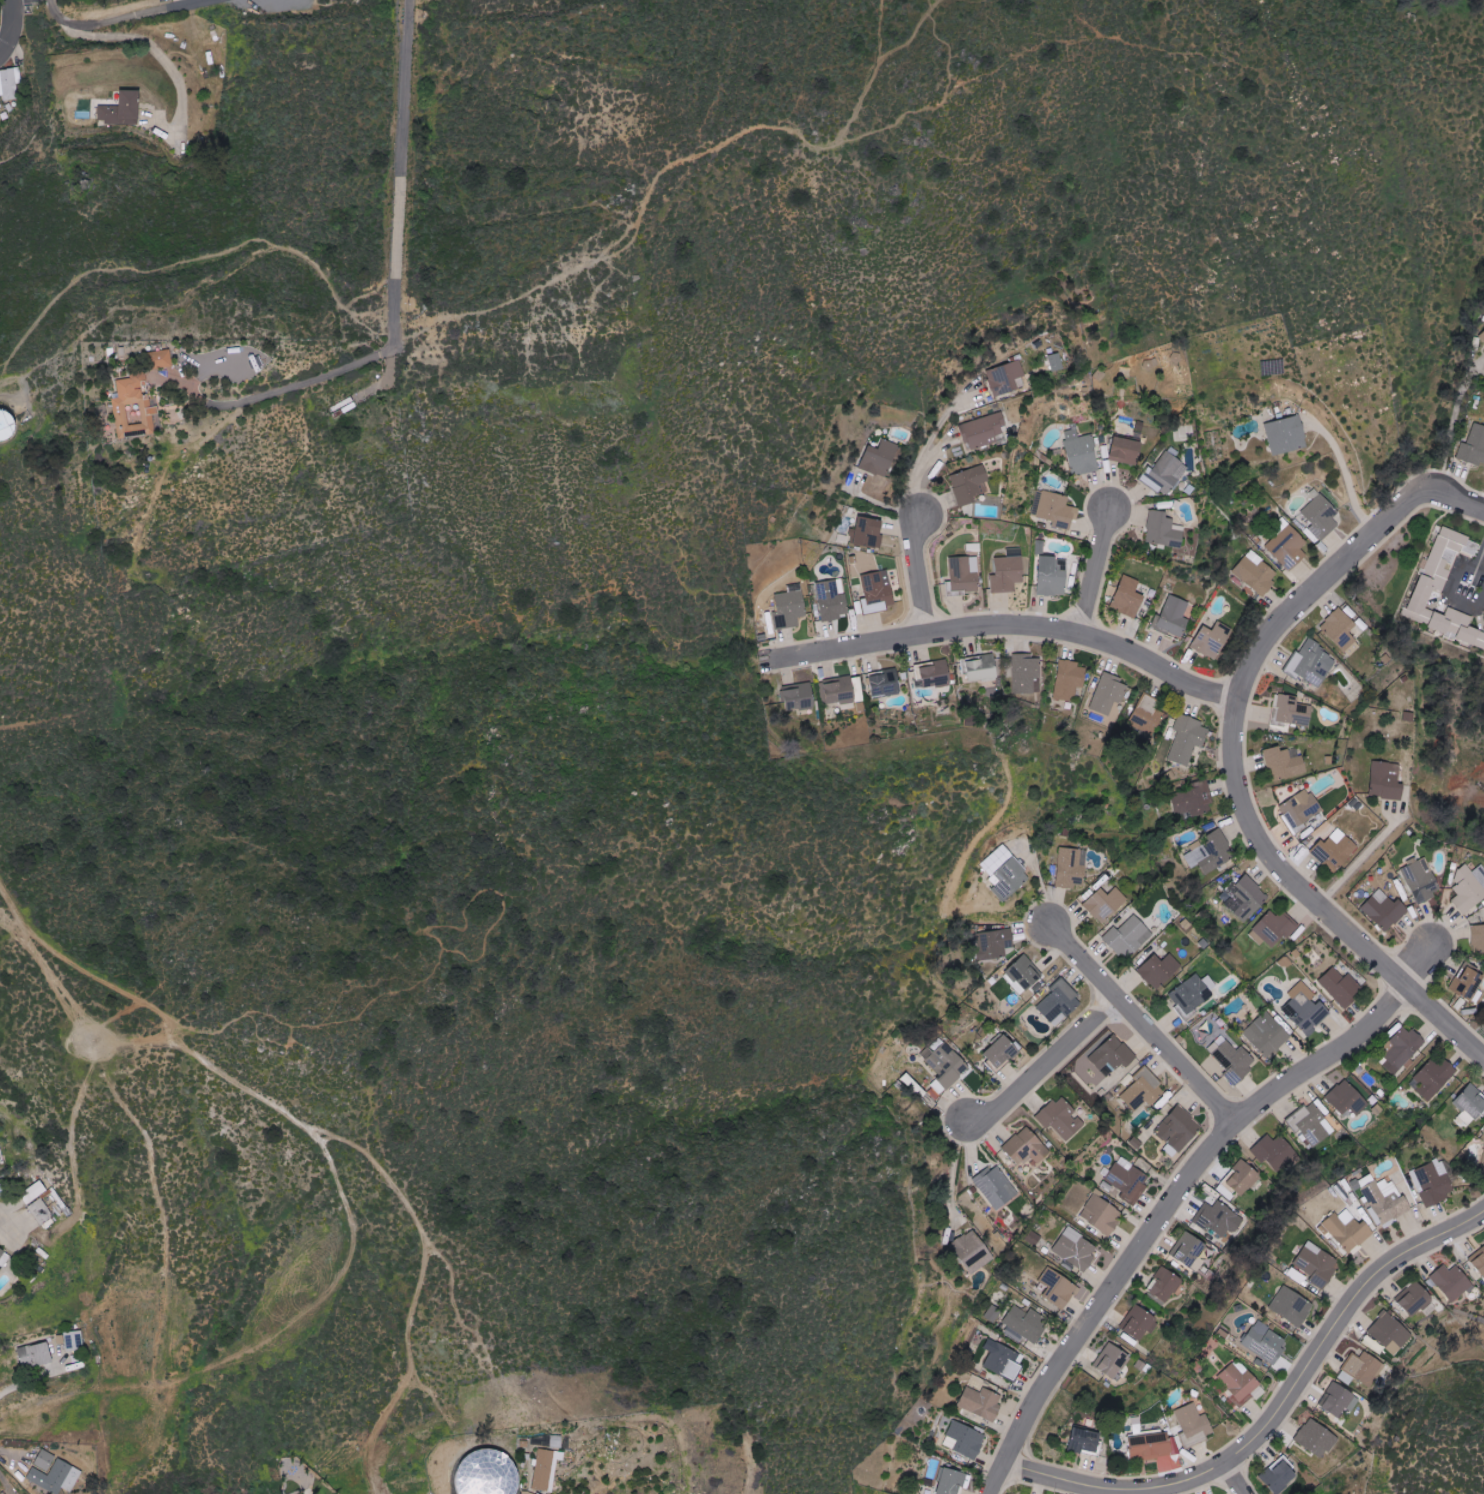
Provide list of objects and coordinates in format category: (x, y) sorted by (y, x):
road: (56, 13)
road: (131, 15)
road: (12, 27)
road: (142, 43)
building: (9, 83)
building: (0, 106)
building: (119, 108)
building: (0, 118)
road: (400, 181)
building: (164, 358)
building: (1056, 362)
building: (1006, 378)
road: (259, 396)
building: (135, 409)
building: (7, 425)
storage tank: (7, 425)
road: (1451, 429)
building: (985, 430)
building: (1287, 435)
building: (1475, 445)
road: (924, 449)
building: (1127, 451)
building: (1082, 452)
building: (879, 458)
building: (1166, 473)
road: (1345, 475)
building: (970, 484)
building: (1057, 510)
building: (1321, 517)
building: (1164, 530)
building: (868, 533)
building: (1288, 546)
road: (1480, 557)
building: (1441, 566)
road: (1480, 566)
road: (1094, 570)
building: (1008, 572)
road: (918, 574)
building: (963, 575)
building: (1054, 576)
building: (1261, 577)
road: (1446, 591)
building: (877, 592)
building: (1128, 597)
building: (832, 599)
building: (790, 607)
building: (1173, 618)
road: (1006, 625)
building: (1441, 625)
building: (1341, 629)
building: (1213, 640)
building: (1313, 664)
building: (983, 668)
building: (937, 674)
building: (1026, 674)
building: (1069, 679)
building: (887, 683)
building: (844, 690)
building: (1109, 693)
building: (800, 696)
building: (1291, 711)
building: (1147, 715)
building: (1186, 740)
road: (1232, 755)
building: (1286, 763)
building: (1387, 781)
building: (1194, 800)
building: (1300, 812)
building: (1336, 850)
building: (1211, 854)
road: (1362, 856)
building: (1071, 869)
building: (1006, 872)
building: (1421, 880)
building: (1469, 888)
building: (1246, 900)
building: (1106, 904)
building: (1385, 910)
building: (1273, 929)
building: (1129, 937)
building: (1478, 938)
building: (1001, 942)
road: (1419, 959)
building: (1160, 971)
building: (1023, 975)
building: (1468, 982)
building: (1341, 987)
building: (1193, 994)
building: (1060, 1003)
building: (1306, 1009)
road: (1142, 1023)
building: (1268, 1035)
building: (1002, 1050)
building: (1403, 1051)
building: (1114, 1055)
building: (1235, 1062)
road: (1046, 1063)
building: (1434, 1077)
building: (1144, 1090)
building: (1350, 1096)
building: (1472, 1103)
building: (1062, 1119)
building: (1311, 1125)
building: (1178, 1131)
building: (1027, 1146)
road: (971, 1147)
building: (1276, 1152)
road: (954, 1172)
building: (1244, 1179)
building: (1128, 1180)
building: (1432, 1184)
building: (997, 1187)
building: (34, 1191)
building: (1385, 1201)
road: (1163, 1210)
building: (42, 1213)
building: (1102, 1214)
building: (1219, 1219)
building: (1348, 1231)
building: (1034, 1239)
building: (1075, 1249)
building: (973, 1251)
building: (1190, 1251)
building: (2, 1252)
building: (1478, 1261)
building: (1317, 1264)
building: (1167, 1283)
building: (1453, 1283)
building: (1060, 1288)
building: (1415, 1298)
building: (1291, 1306)
building: (1138, 1321)
building: (1025, 1324)
building: (1390, 1332)
building: (74, 1340)
building: (1265, 1343)
building: (36, 1354)
building: (1112, 1359)
building: (1006, 1360)
building: (1362, 1369)
building: (1240, 1383)
road: (30, 1386)
building: (1340, 1399)
building: (982, 1402)
road: (1274, 1414)
building: (1195, 1424)
building: (1317, 1438)
building: (967, 1439)
building: (1088, 1440)
building: (557, 1441)
building: (1154, 1445)
building: (44, 1460)
building: (547, 1468)
building: (485, 1474)
storage tank: (485, 1474)
building: (1279, 1475)
building: (56, 1477)
road: (1234, 1478)
building: (952, 1481)
building: (3, 1493)

